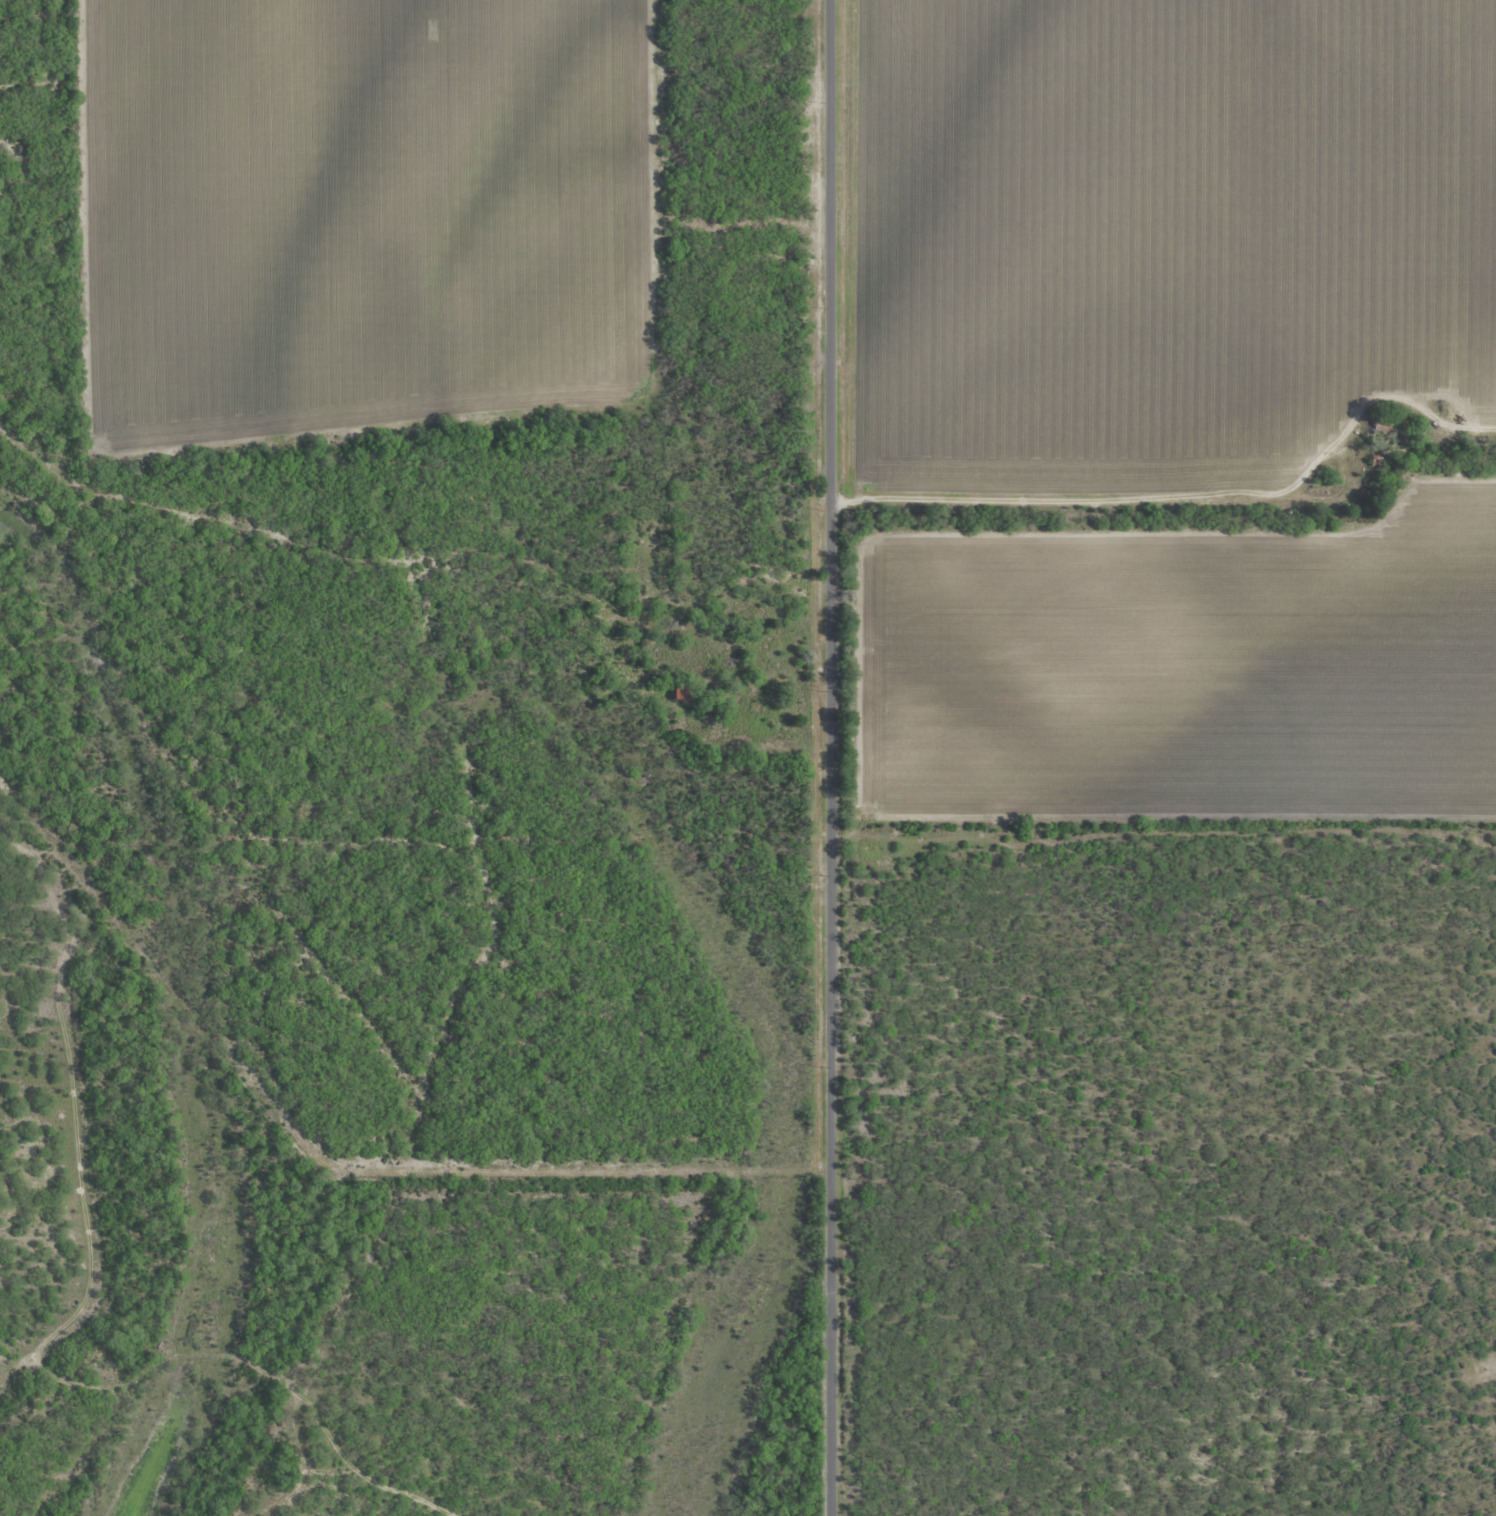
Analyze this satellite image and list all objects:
road: (1114, 498)
road: (829, 757)

